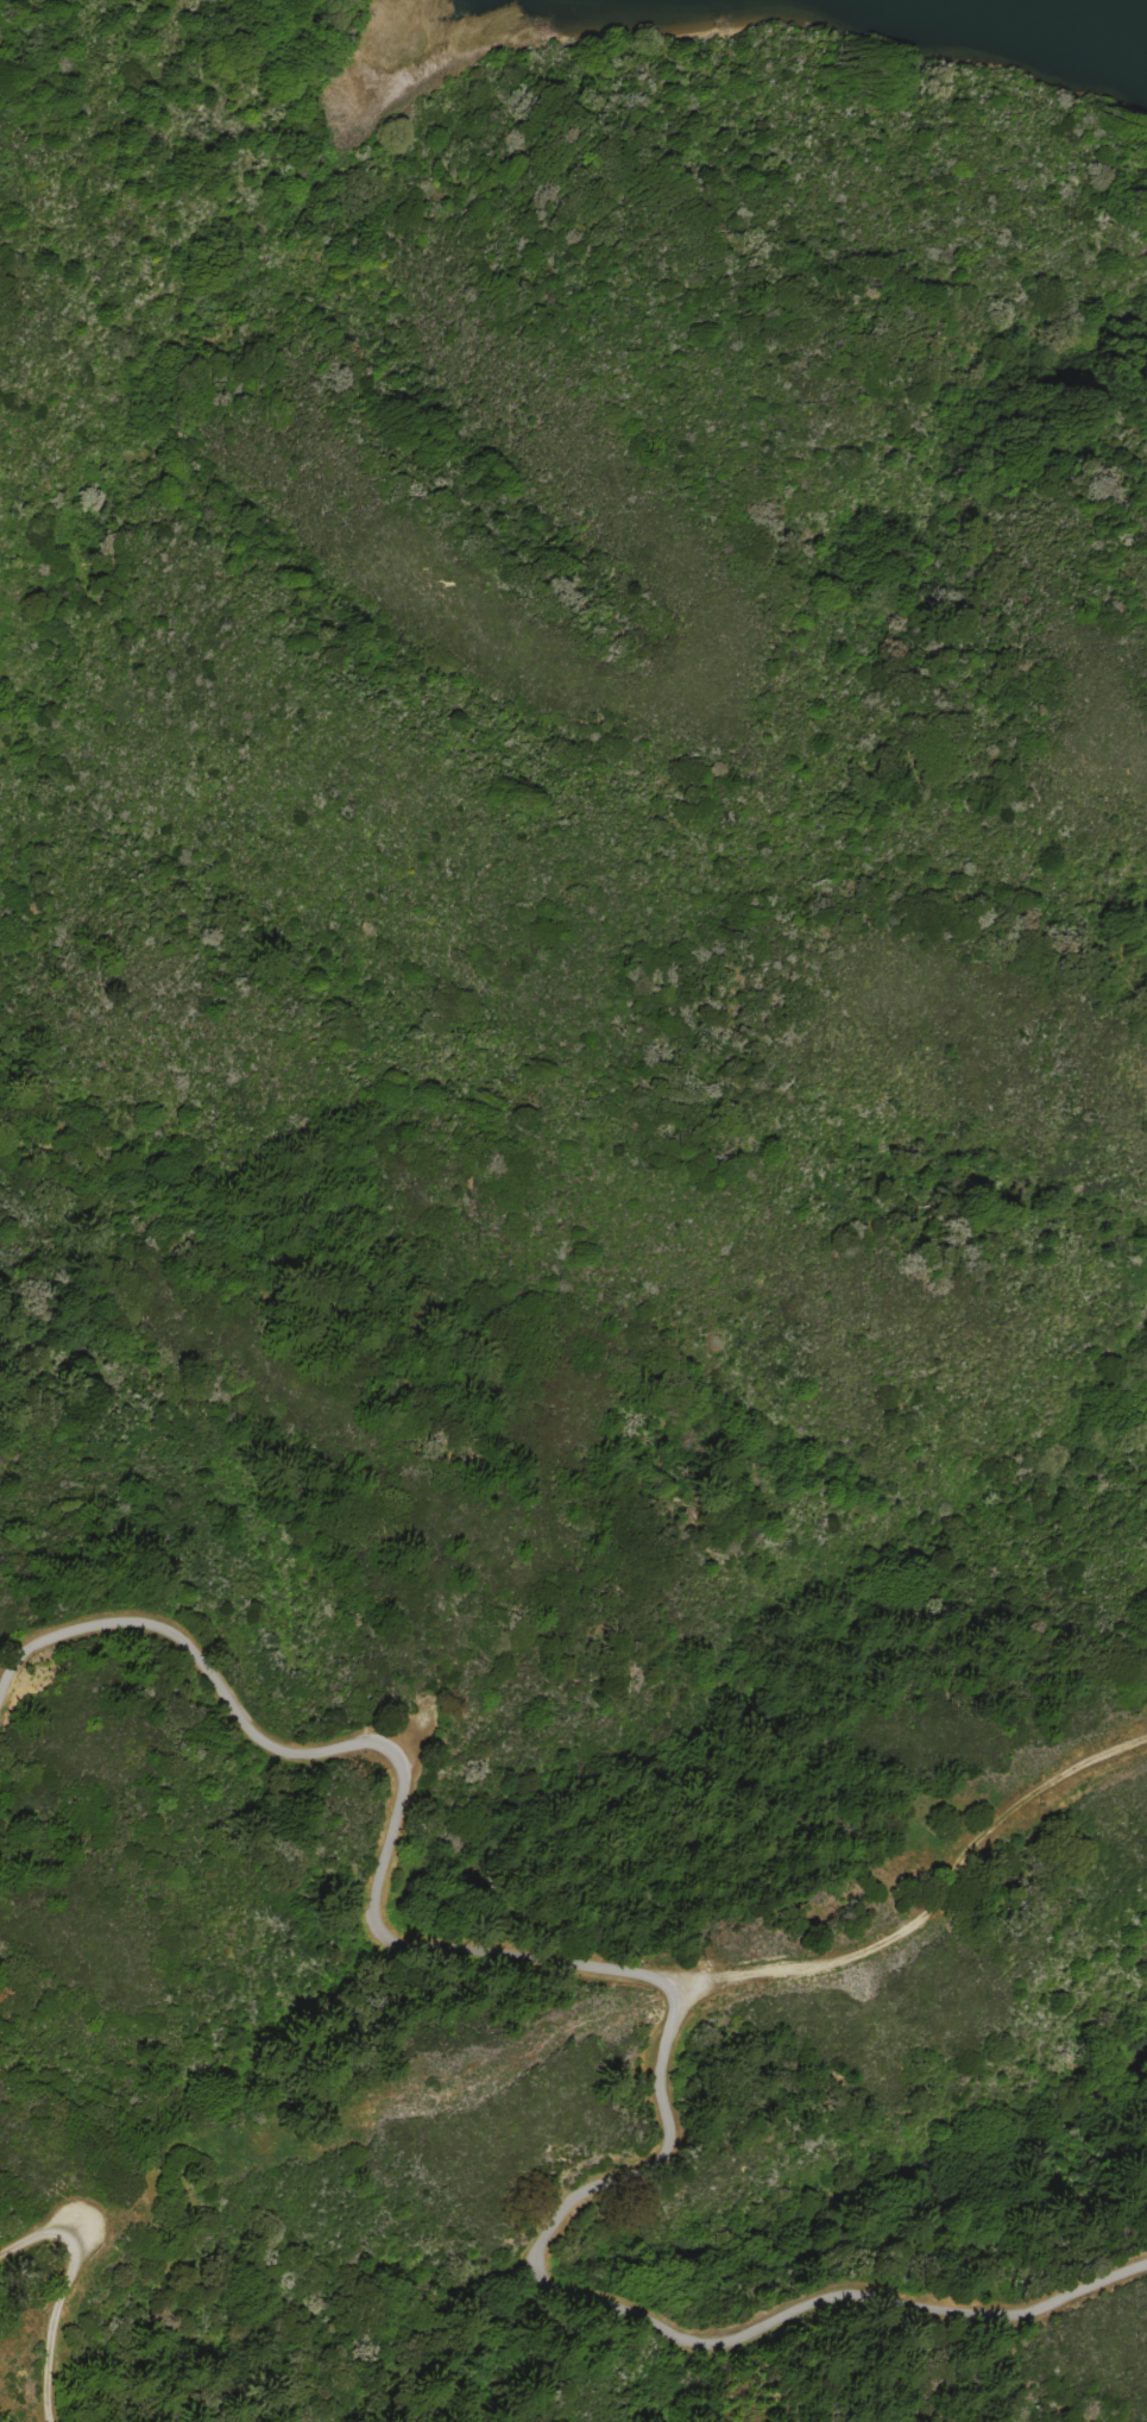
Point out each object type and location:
road: (931, 1905)
road: (668, 1992)
road: (74, 2288)

